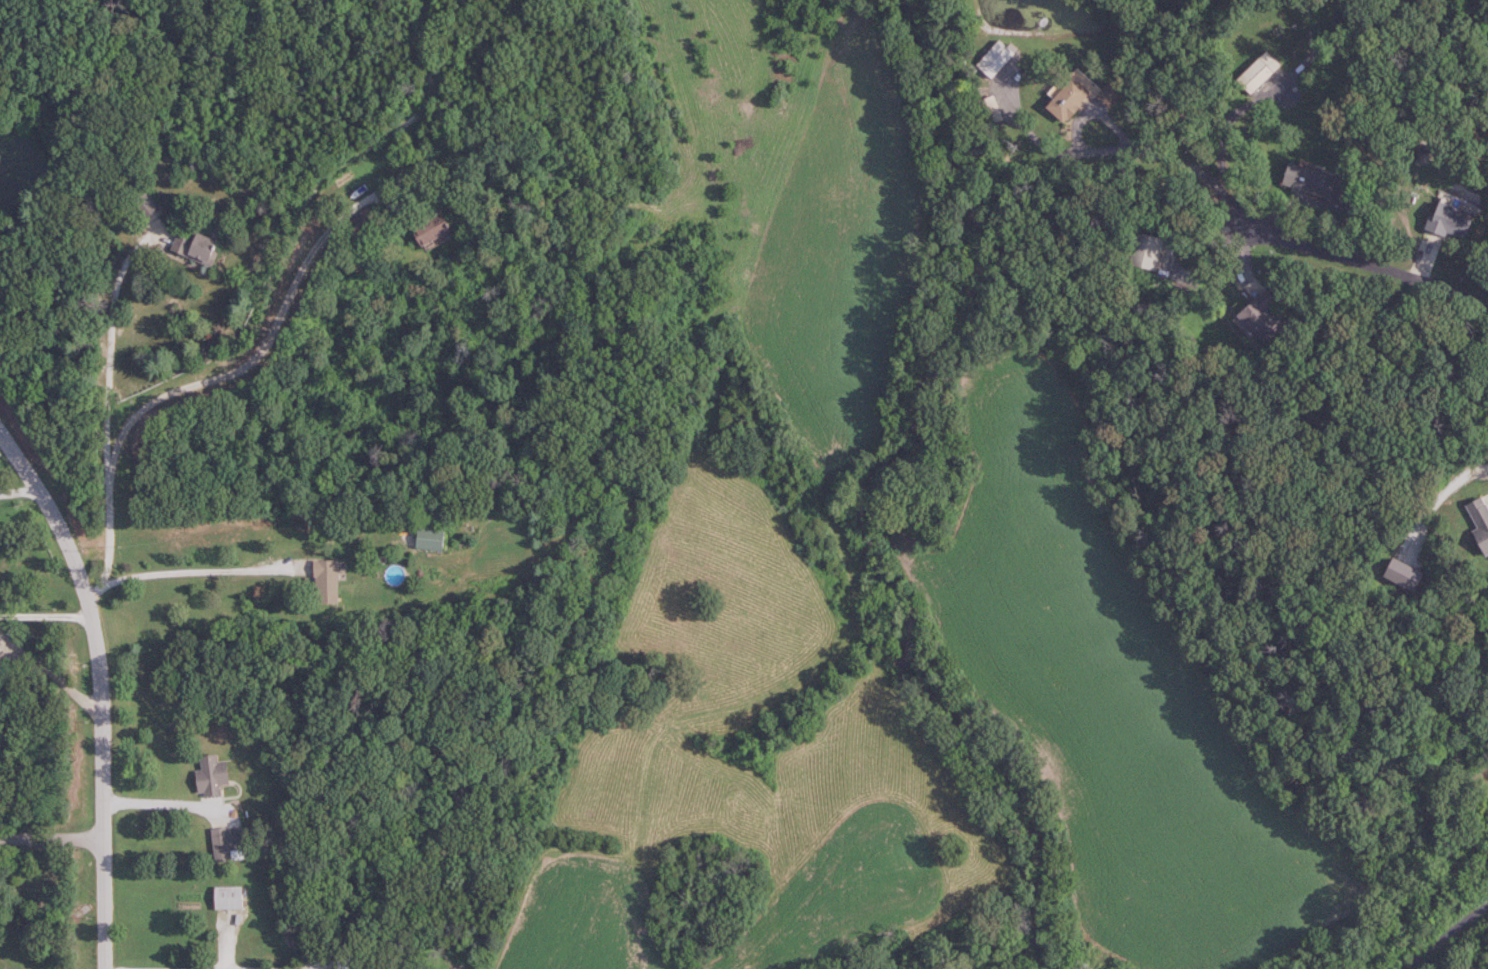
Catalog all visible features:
building: (1260, 72)
building: (1110, 95)
building: (1070, 99)
building: (992, 109)
road: (1124, 148)
building: (1310, 181)
building: (146, 204)
building: (1452, 220)
building: (432, 227)
building: (197, 247)
building: (1148, 251)
road: (1362, 261)
road: (284, 302)
building: (1263, 317)
road: (105, 411)
building: (1481, 521)
building: (430, 539)
road: (201, 569)
building: (327, 582)
road: (46, 614)
road: (99, 687)
building: (212, 777)
road: (160, 804)
road: (52, 839)
building: (222, 844)
building: (229, 898)
road: (1445, 936)

